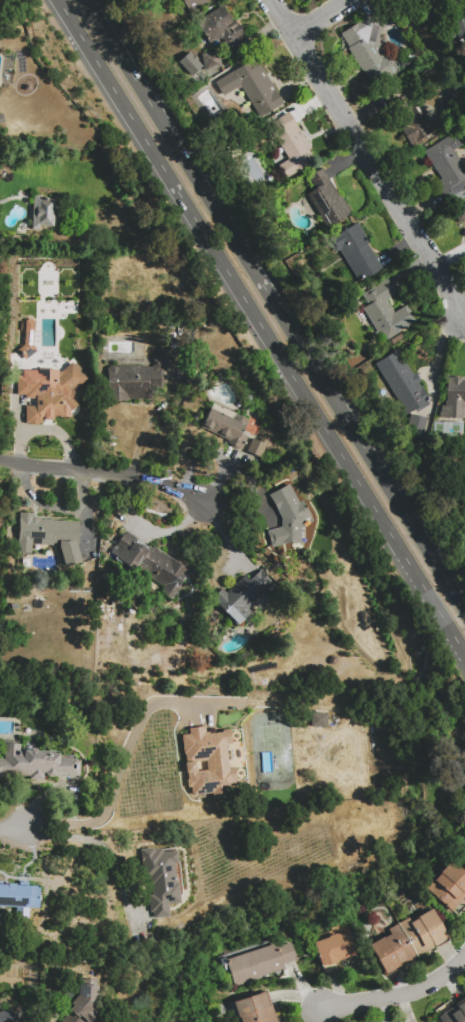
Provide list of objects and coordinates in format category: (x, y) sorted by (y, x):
building: (189, 4)
road: (323, 17)
building: (436, 18)
building: (221, 31)
building: (456, 32)
building: (371, 50)
building: (212, 62)
building: (253, 88)
building: (409, 116)
building: (292, 146)
road: (370, 158)
building: (449, 166)
building: (328, 201)
building: (42, 211)
building: (460, 215)
building: (357, 253)
road: (274, 304)
building: (386, 311)
road: (262, 327)
building: (29, 342)
building: (402, 379)
building: (138, 381)
building: (51, 393)
building: (455, 400)
building: (227, 427)
building: (417, 428)
building: (255, 445)
road: (104, 473)
building: (289, 519)
building: (50, 535)
building: (150, 565)
building: (243, 598)
building: (318, 719)
park: (271, 748)
building: (37, 763)
building: (210, 763)
road: (119, 772)
road: (14, 826)
road: (102, 846)
building: (161, 879)
building: (449, 885)
building: (19, 895)
building: (408, 941)
building: (335, 952)
building: (259, 962)
road: (397, 992)
building: (83, 1005)
building: (254, 1008)
building: (454, 1014)
building: (7, 1016)

